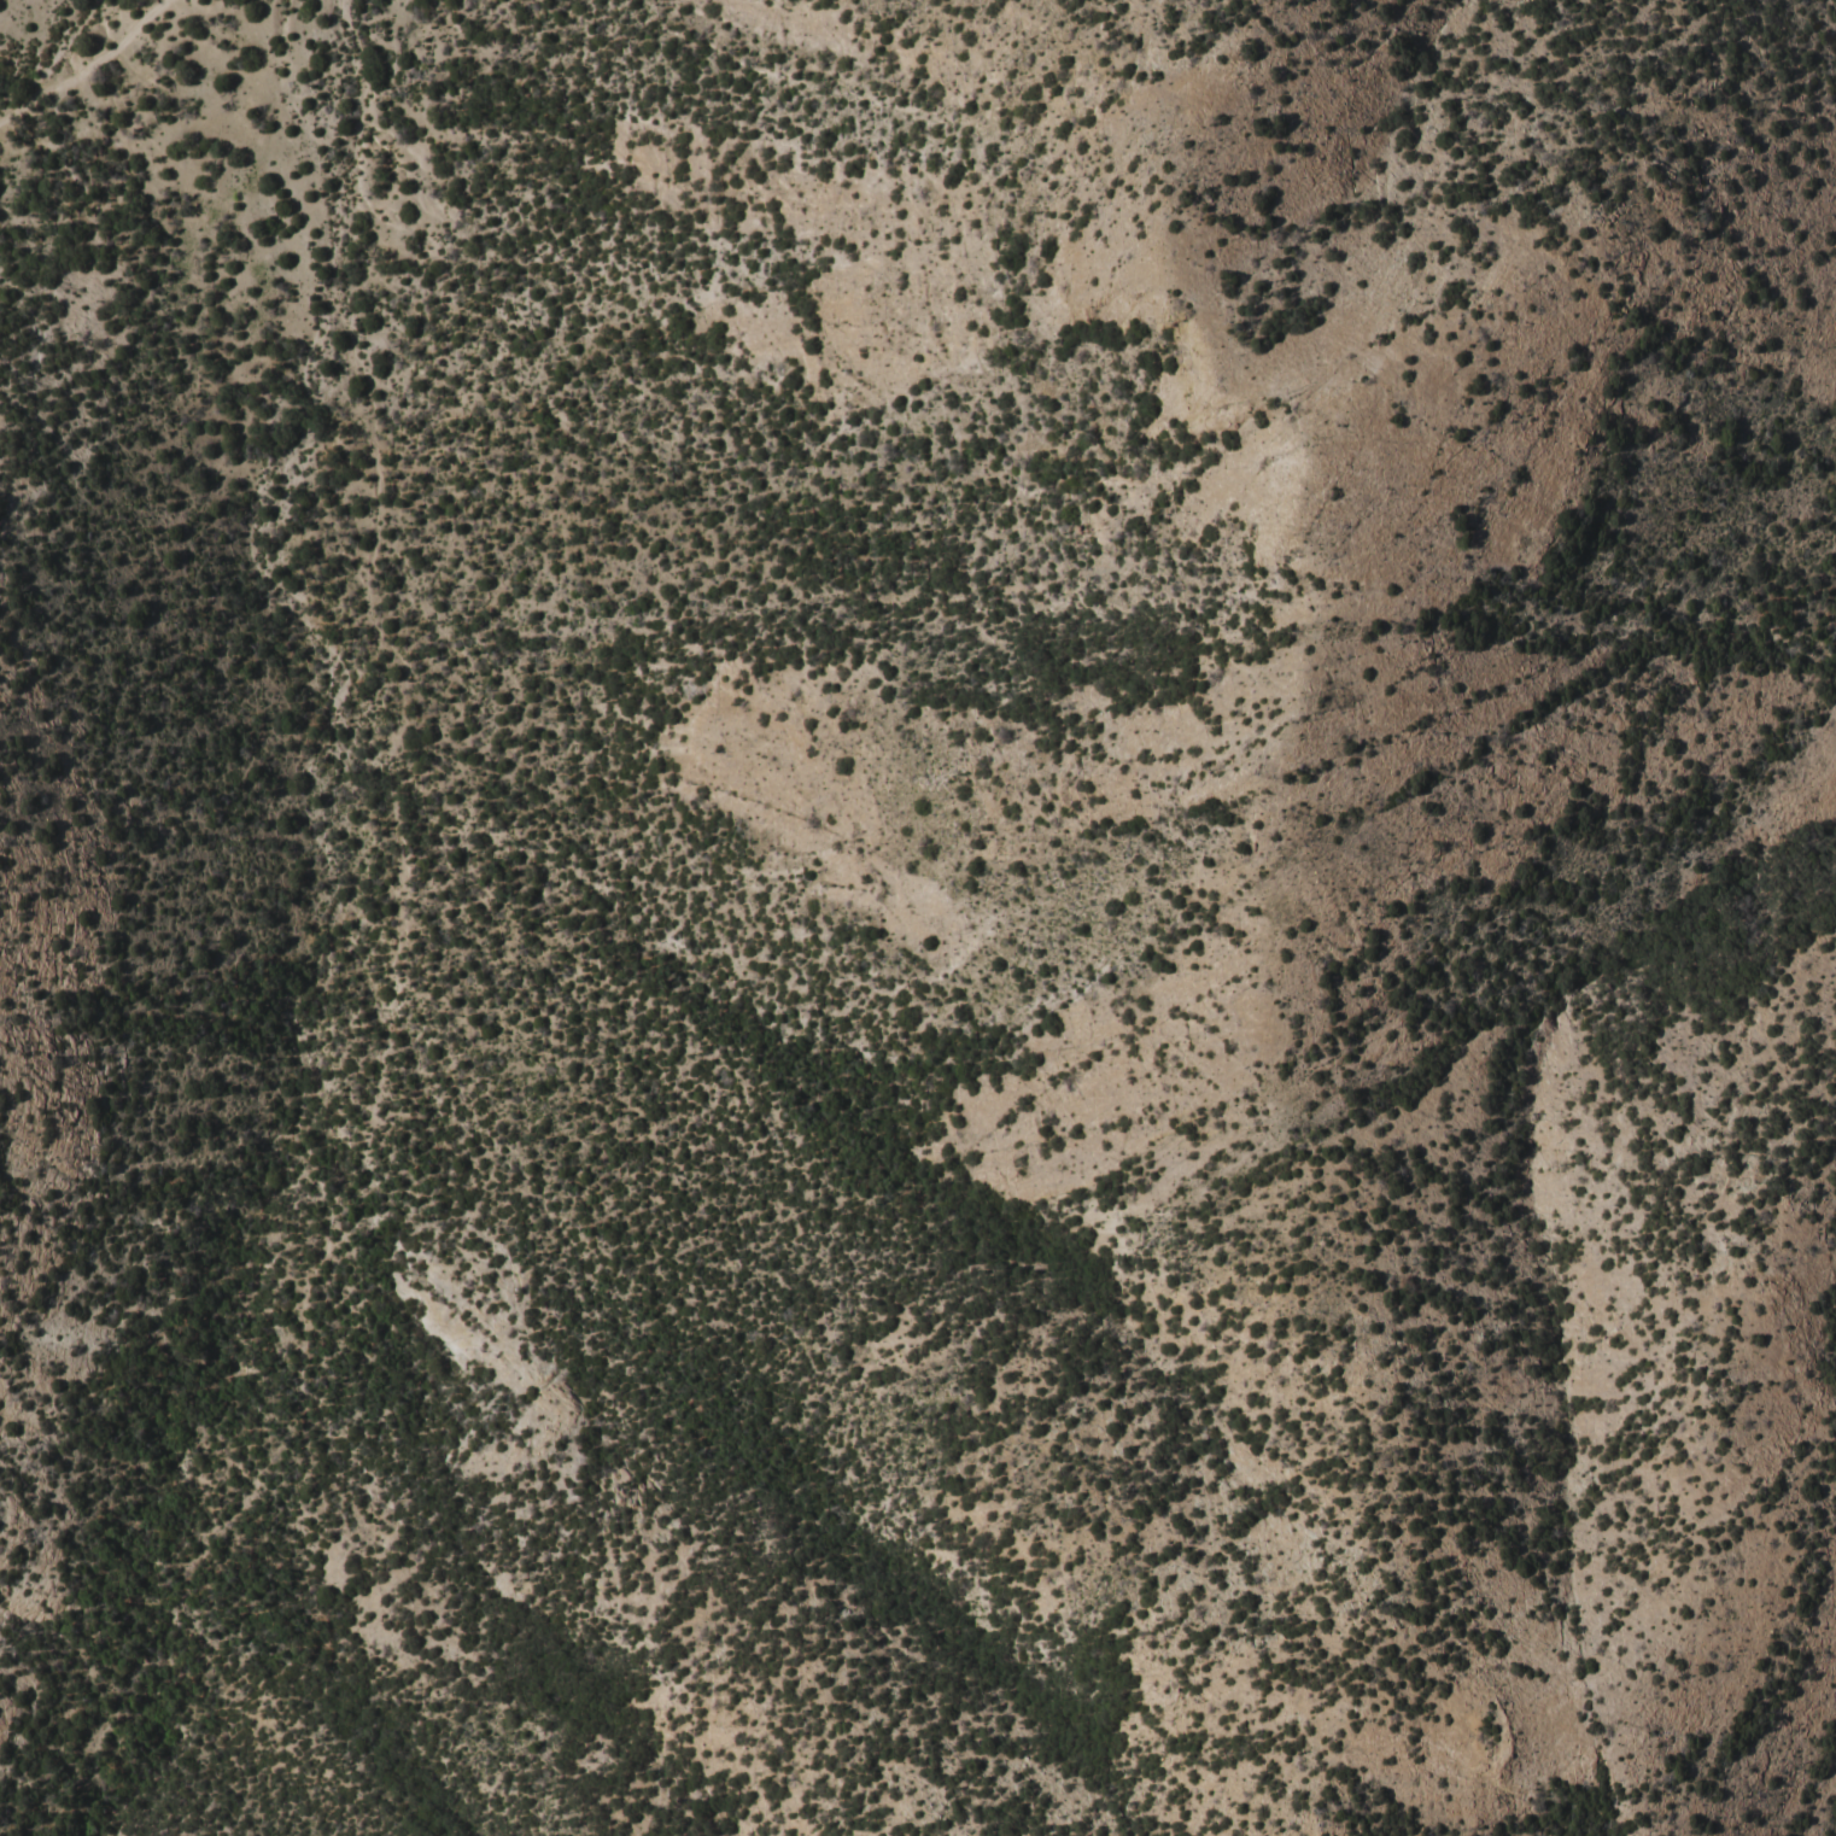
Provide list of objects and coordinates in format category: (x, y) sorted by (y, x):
road: (82, 63)

